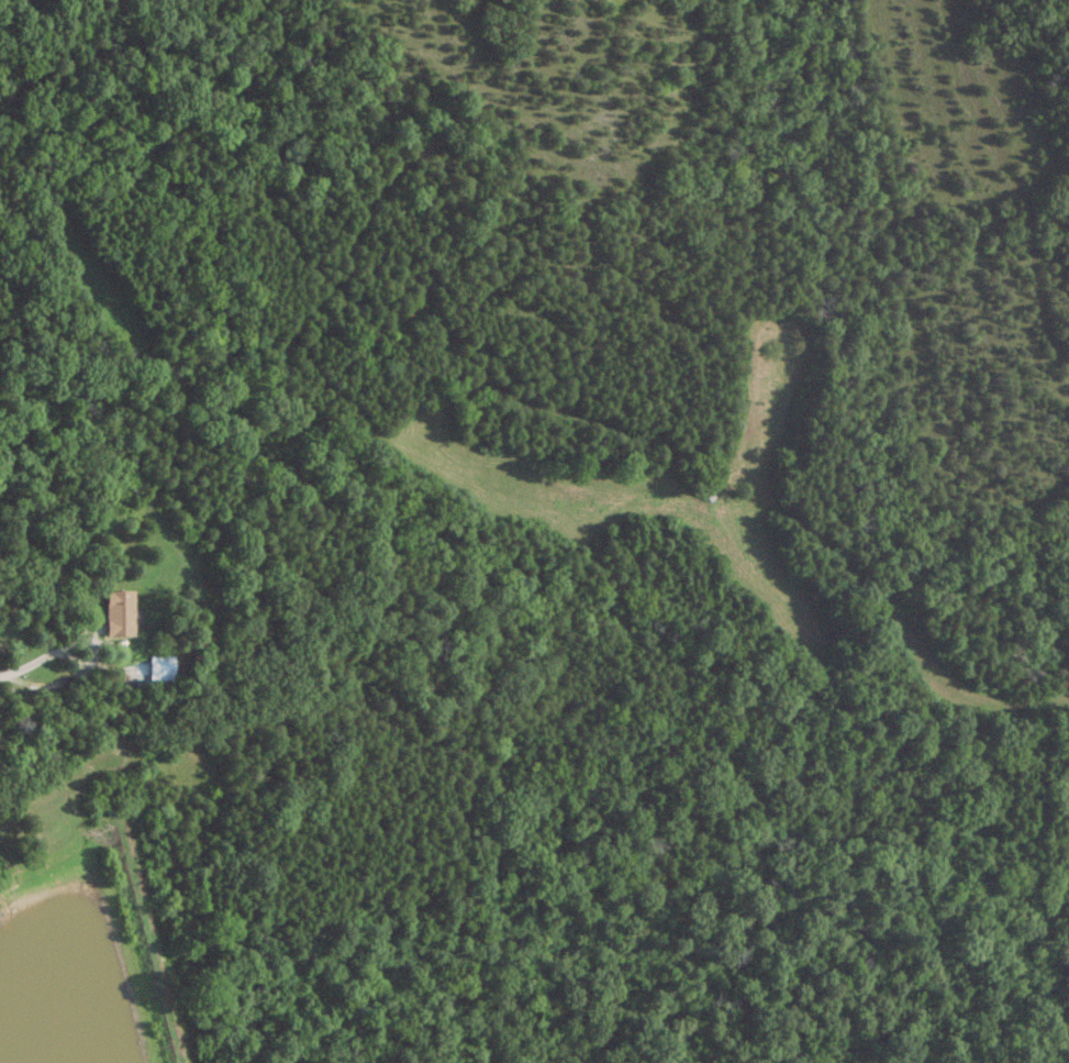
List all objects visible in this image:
building: (116, 612)
road: (41, 658)
building: (159, 668)

